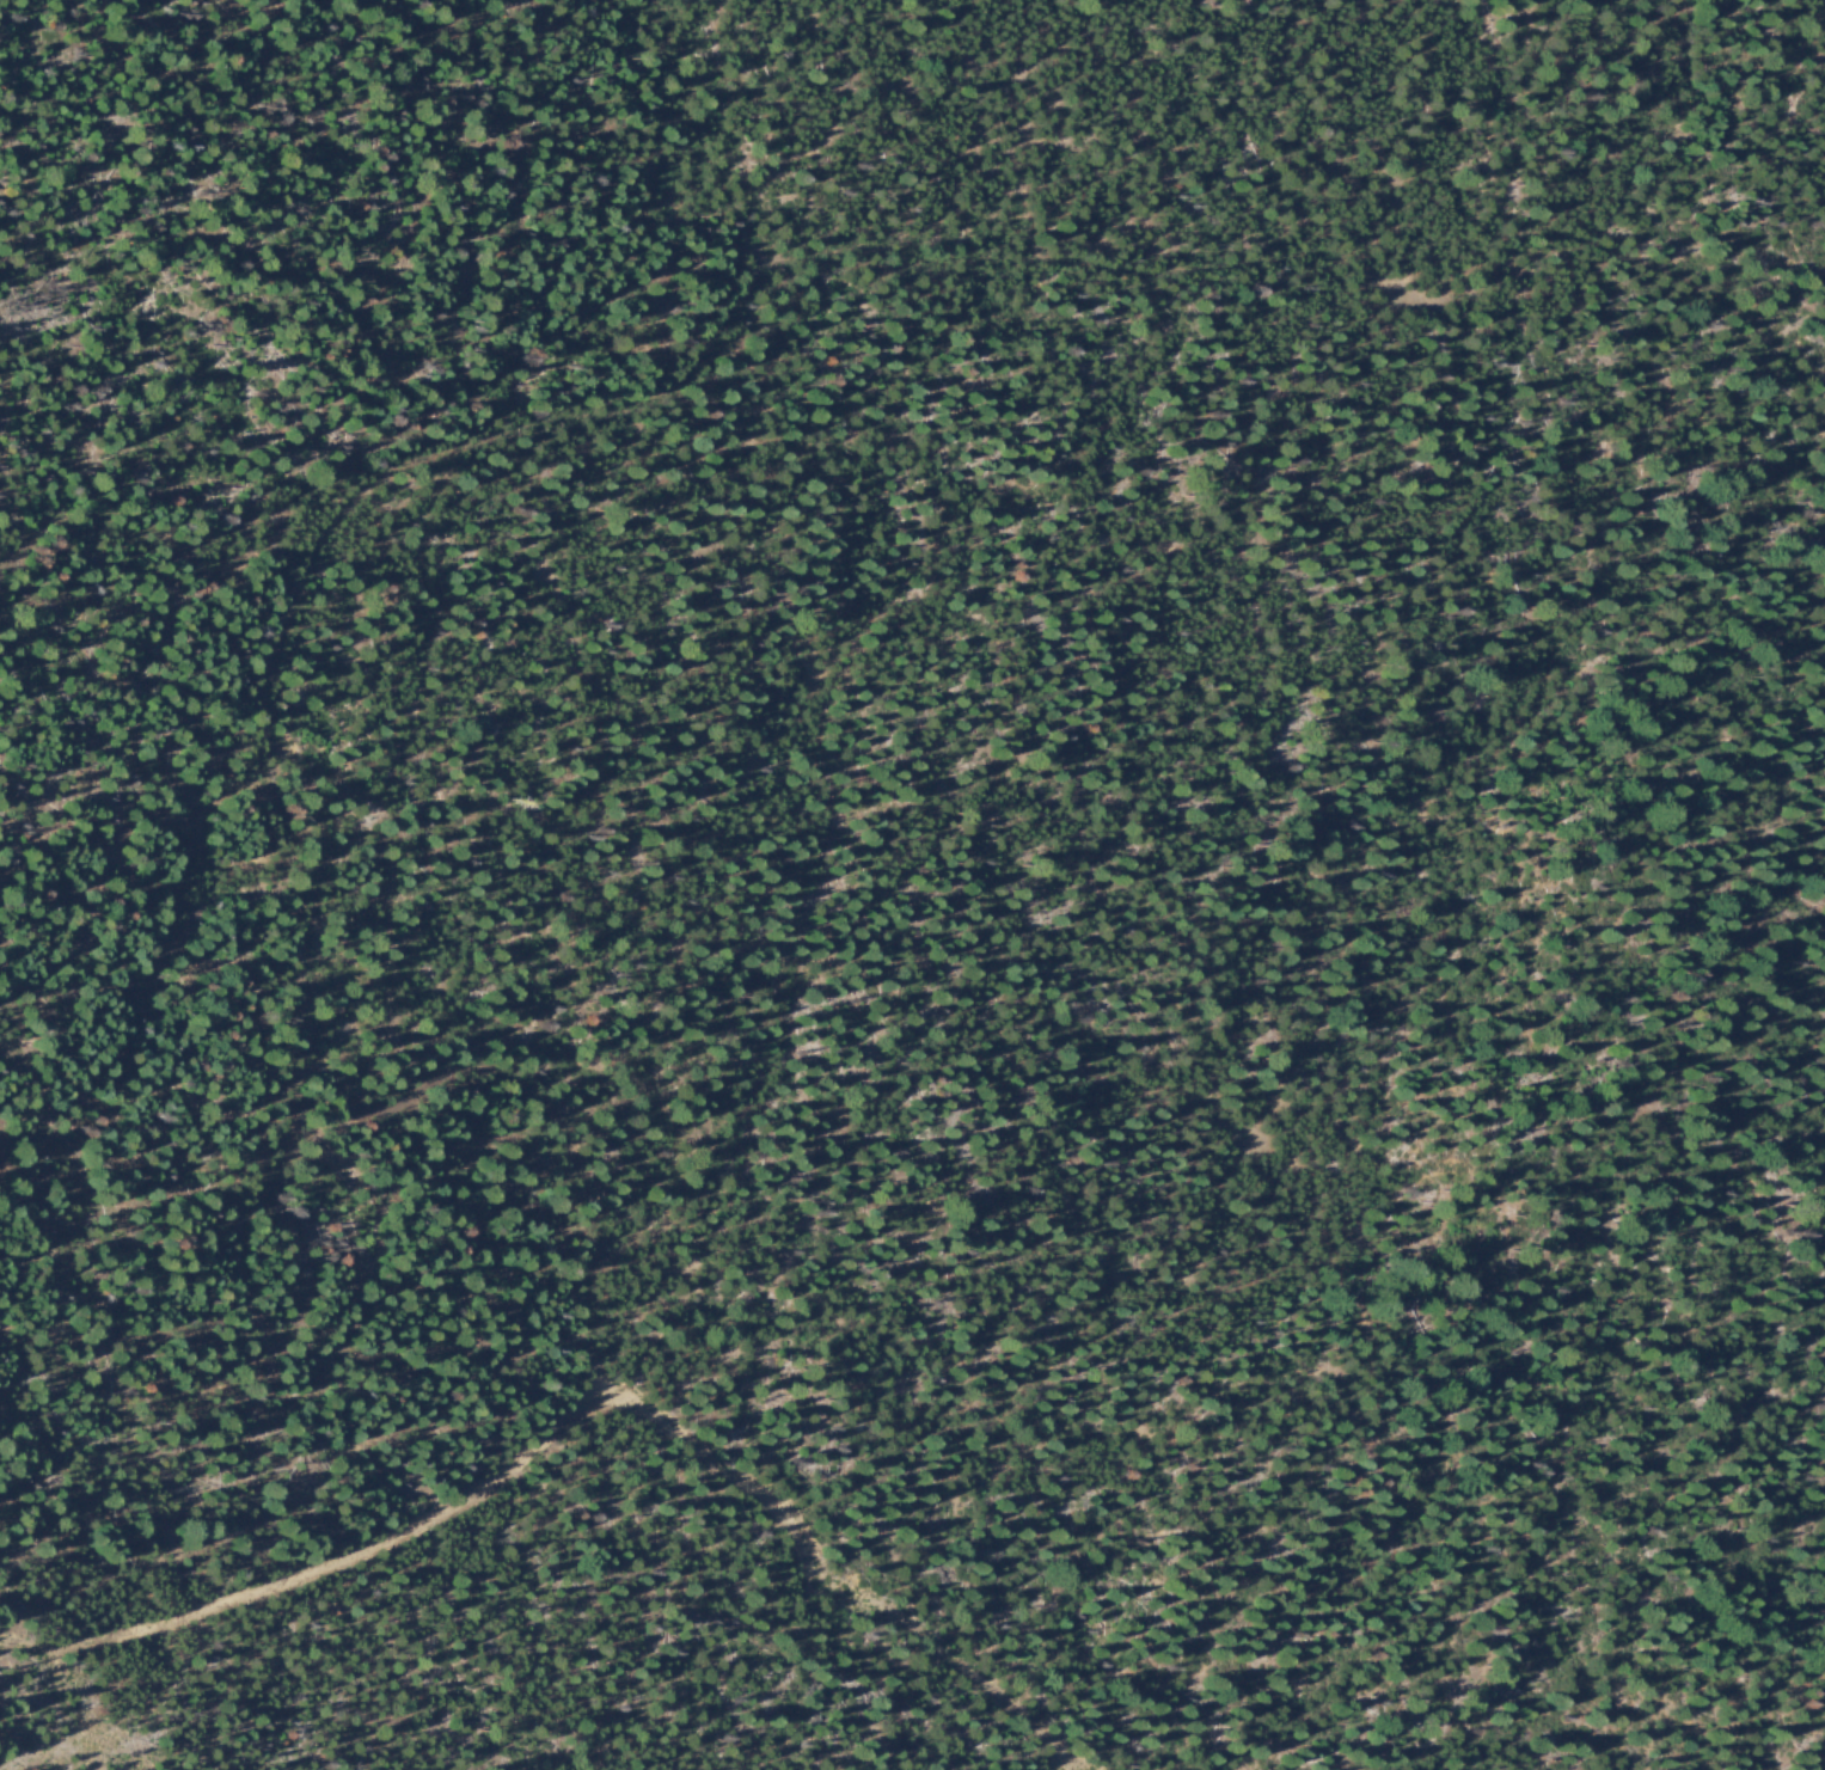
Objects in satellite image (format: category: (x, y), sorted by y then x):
road: (1046, 206)
road: (619, 207)
road: (764, 269)
road: (1321, 1116)
road: (618, 1420)

